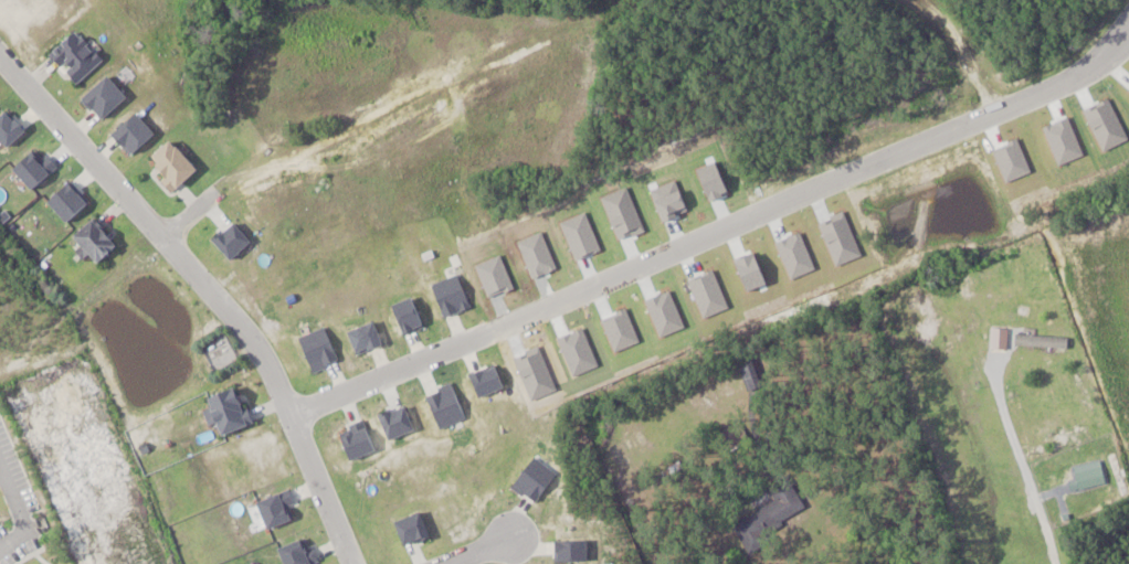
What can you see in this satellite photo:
building: (76, 56)
building: (176, 166)
road: (190, 215)
road: (719, 235)
building: (97, 240)
road: (207, 290)
building: (998, 338)
building: (752, 374)
building: (230, 411)
building: (771, 515)
road: (481, 550)

